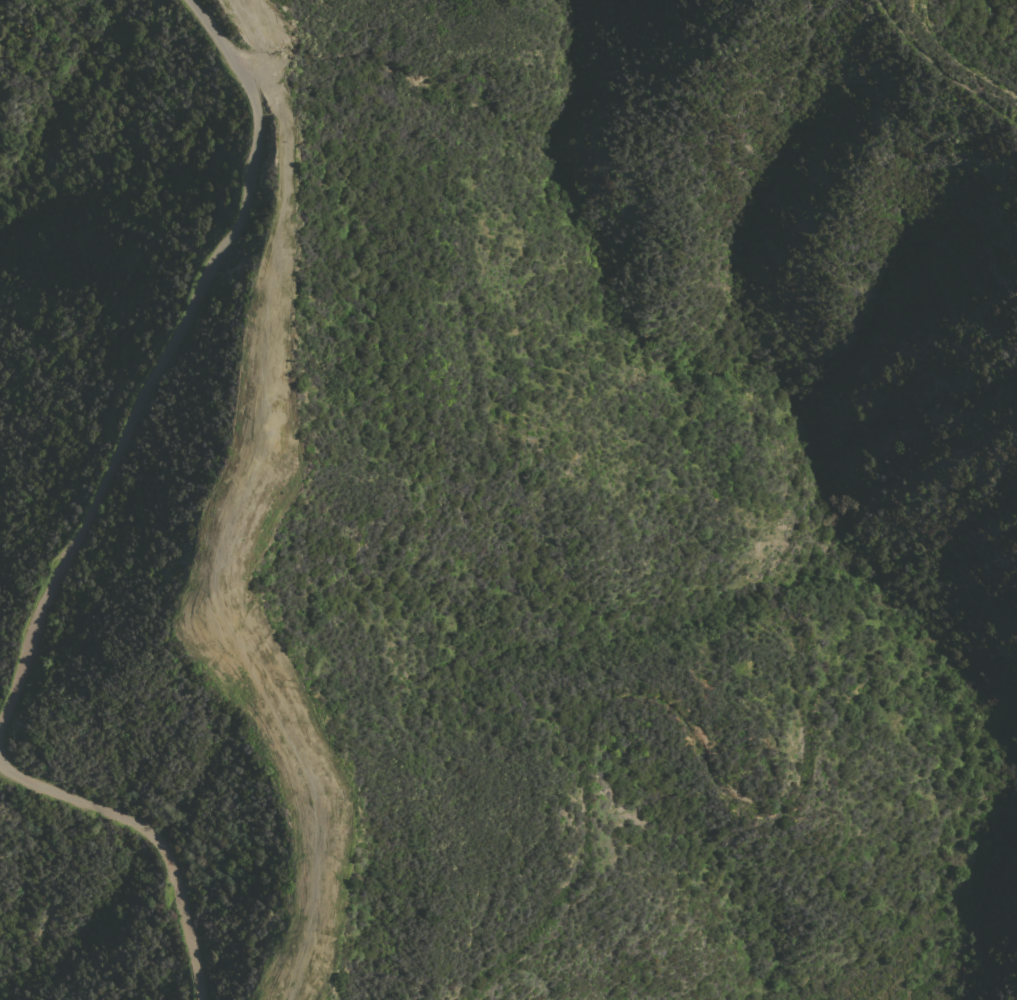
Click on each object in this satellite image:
road: (940, 73)
road: (252, 76)
road: (163, 359)
road: (238, 508)
road: (154, 836)

